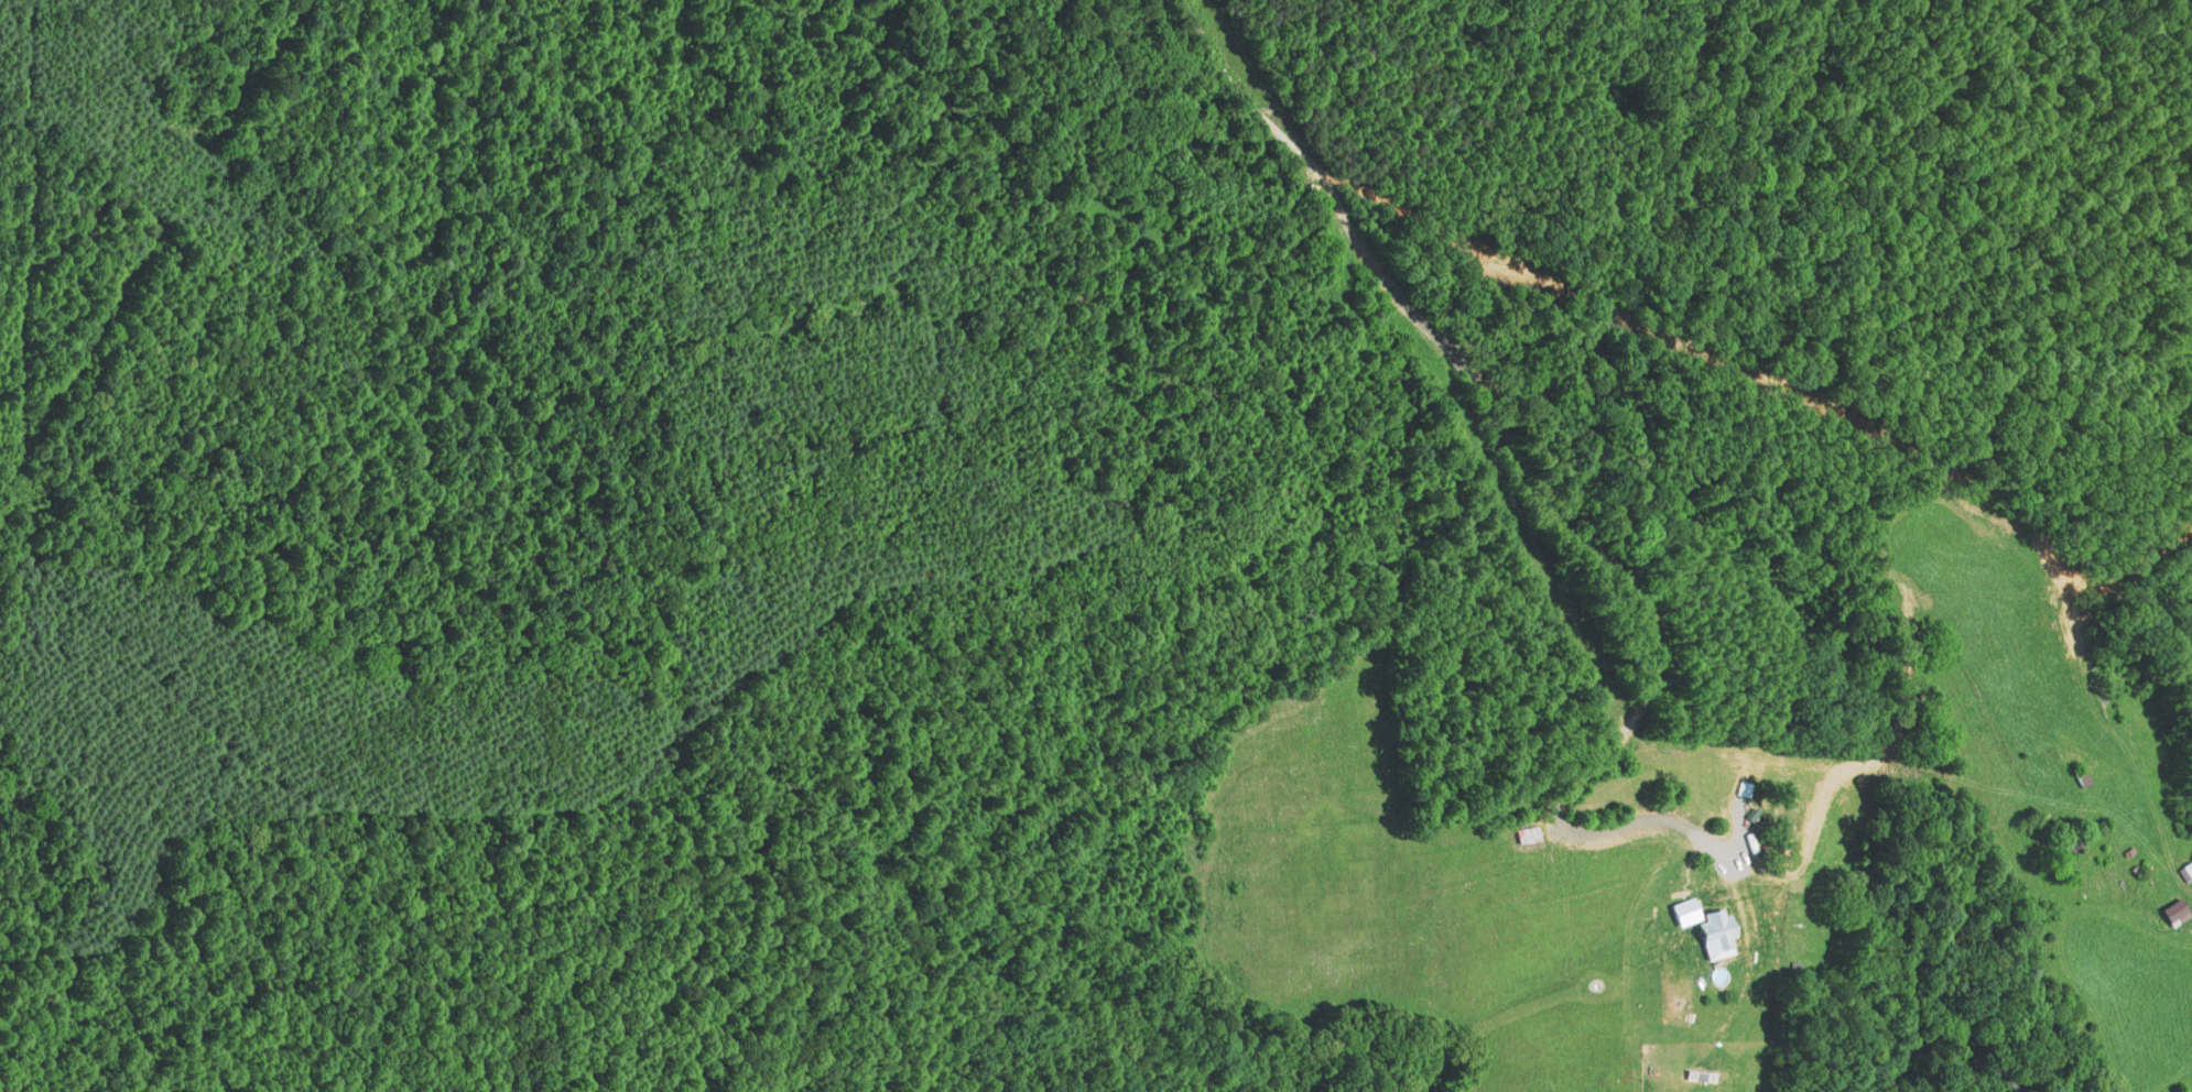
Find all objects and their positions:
road: (1838, 404)
road: (1528, 490)
building: (2080, 779)
building: (2069, 841)
building: (2183, 872)
building: (2172, 913)
building: (1717, 930)

